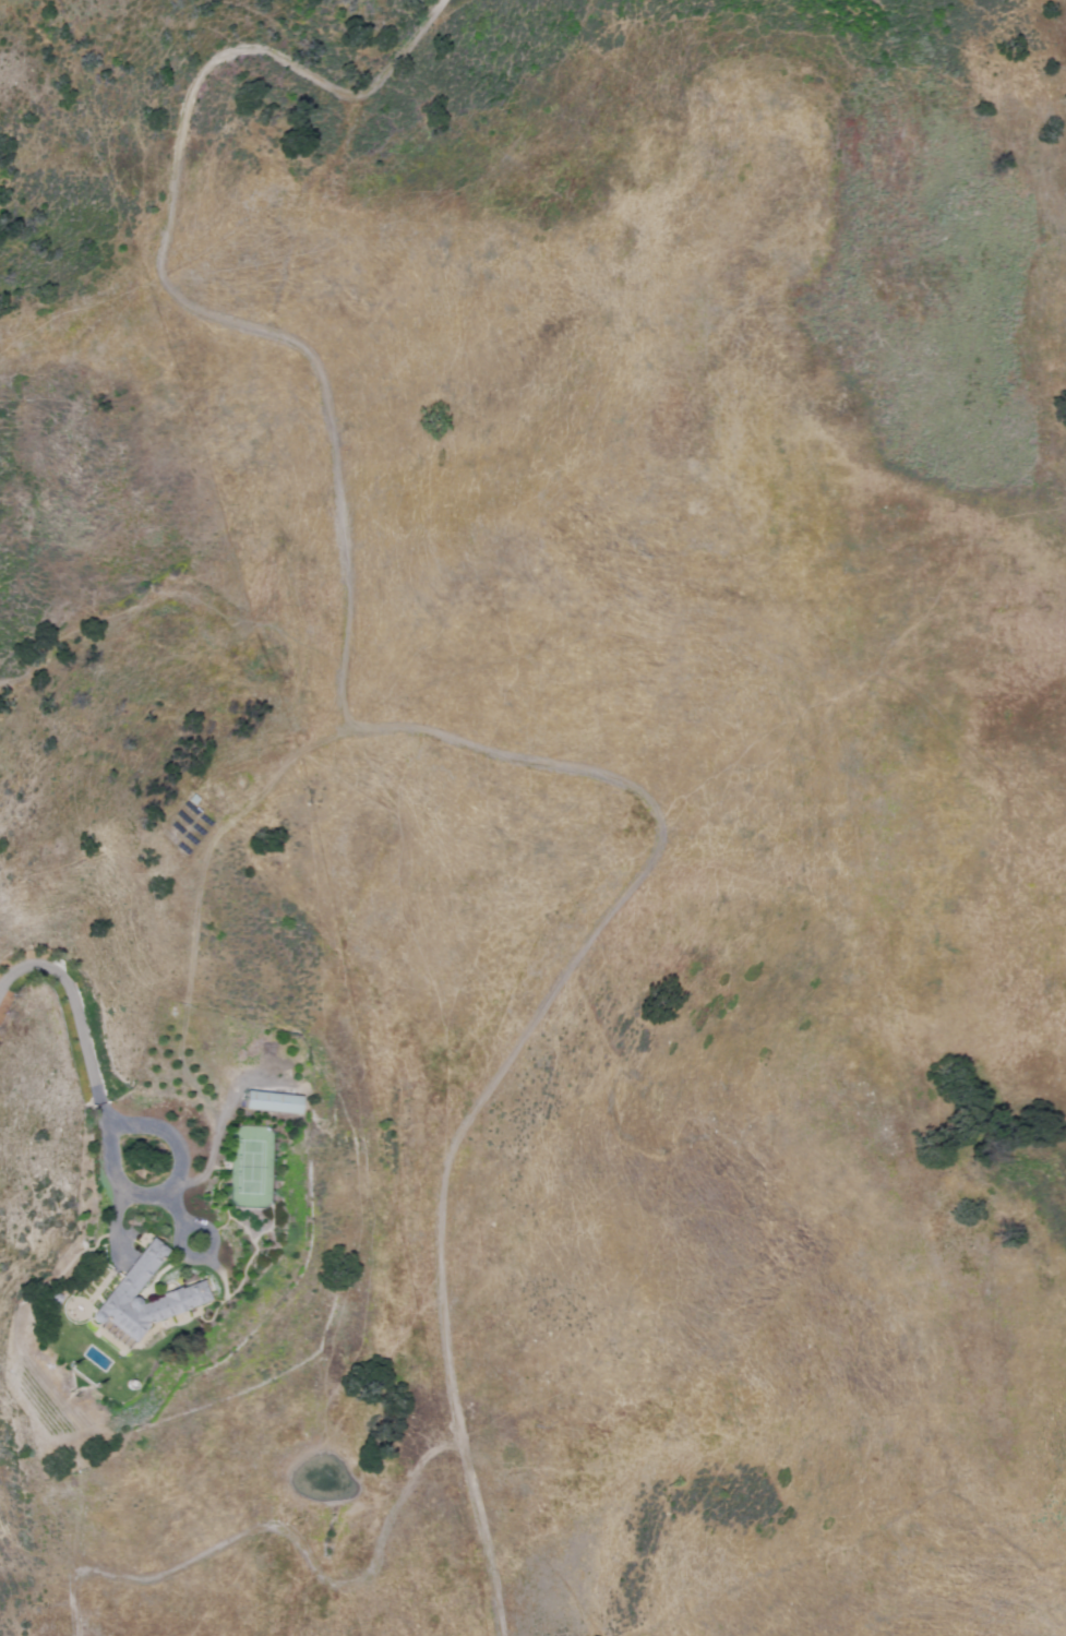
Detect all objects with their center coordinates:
road: (436, 727)
building: (268, 1101)
building: (125, 1286)

